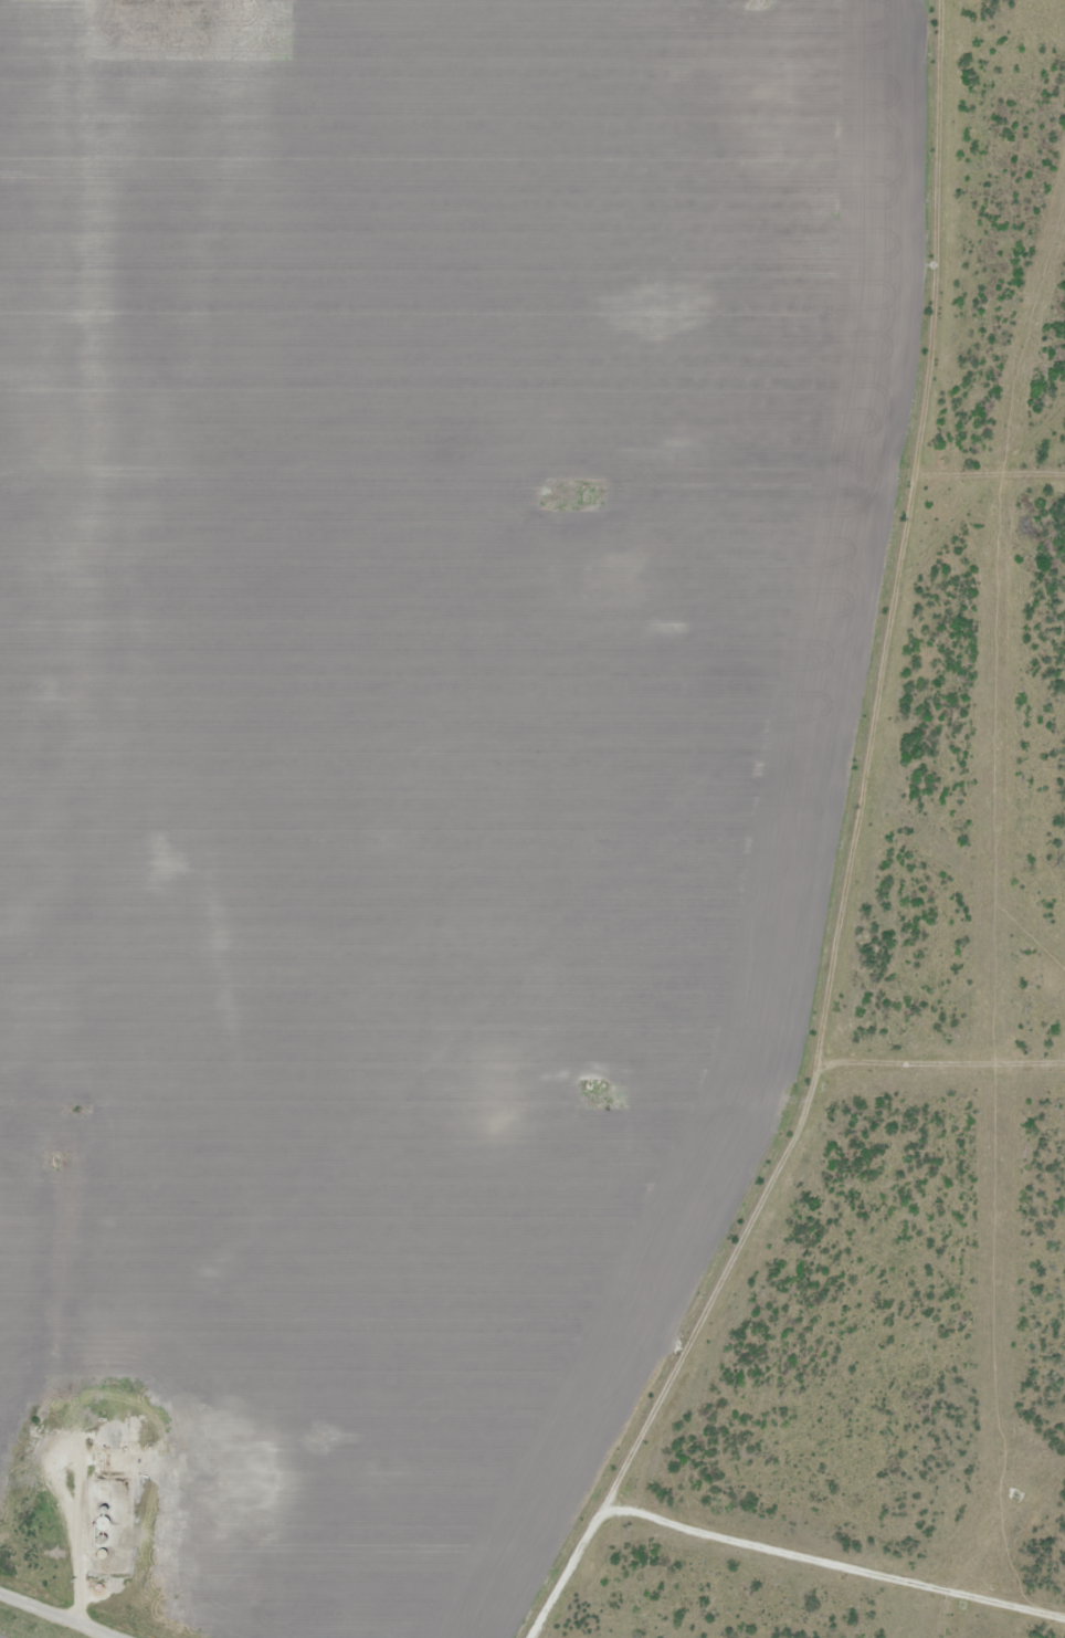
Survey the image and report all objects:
road: (846, 854)
building: (101, 1532)
road: (57, 1616)

